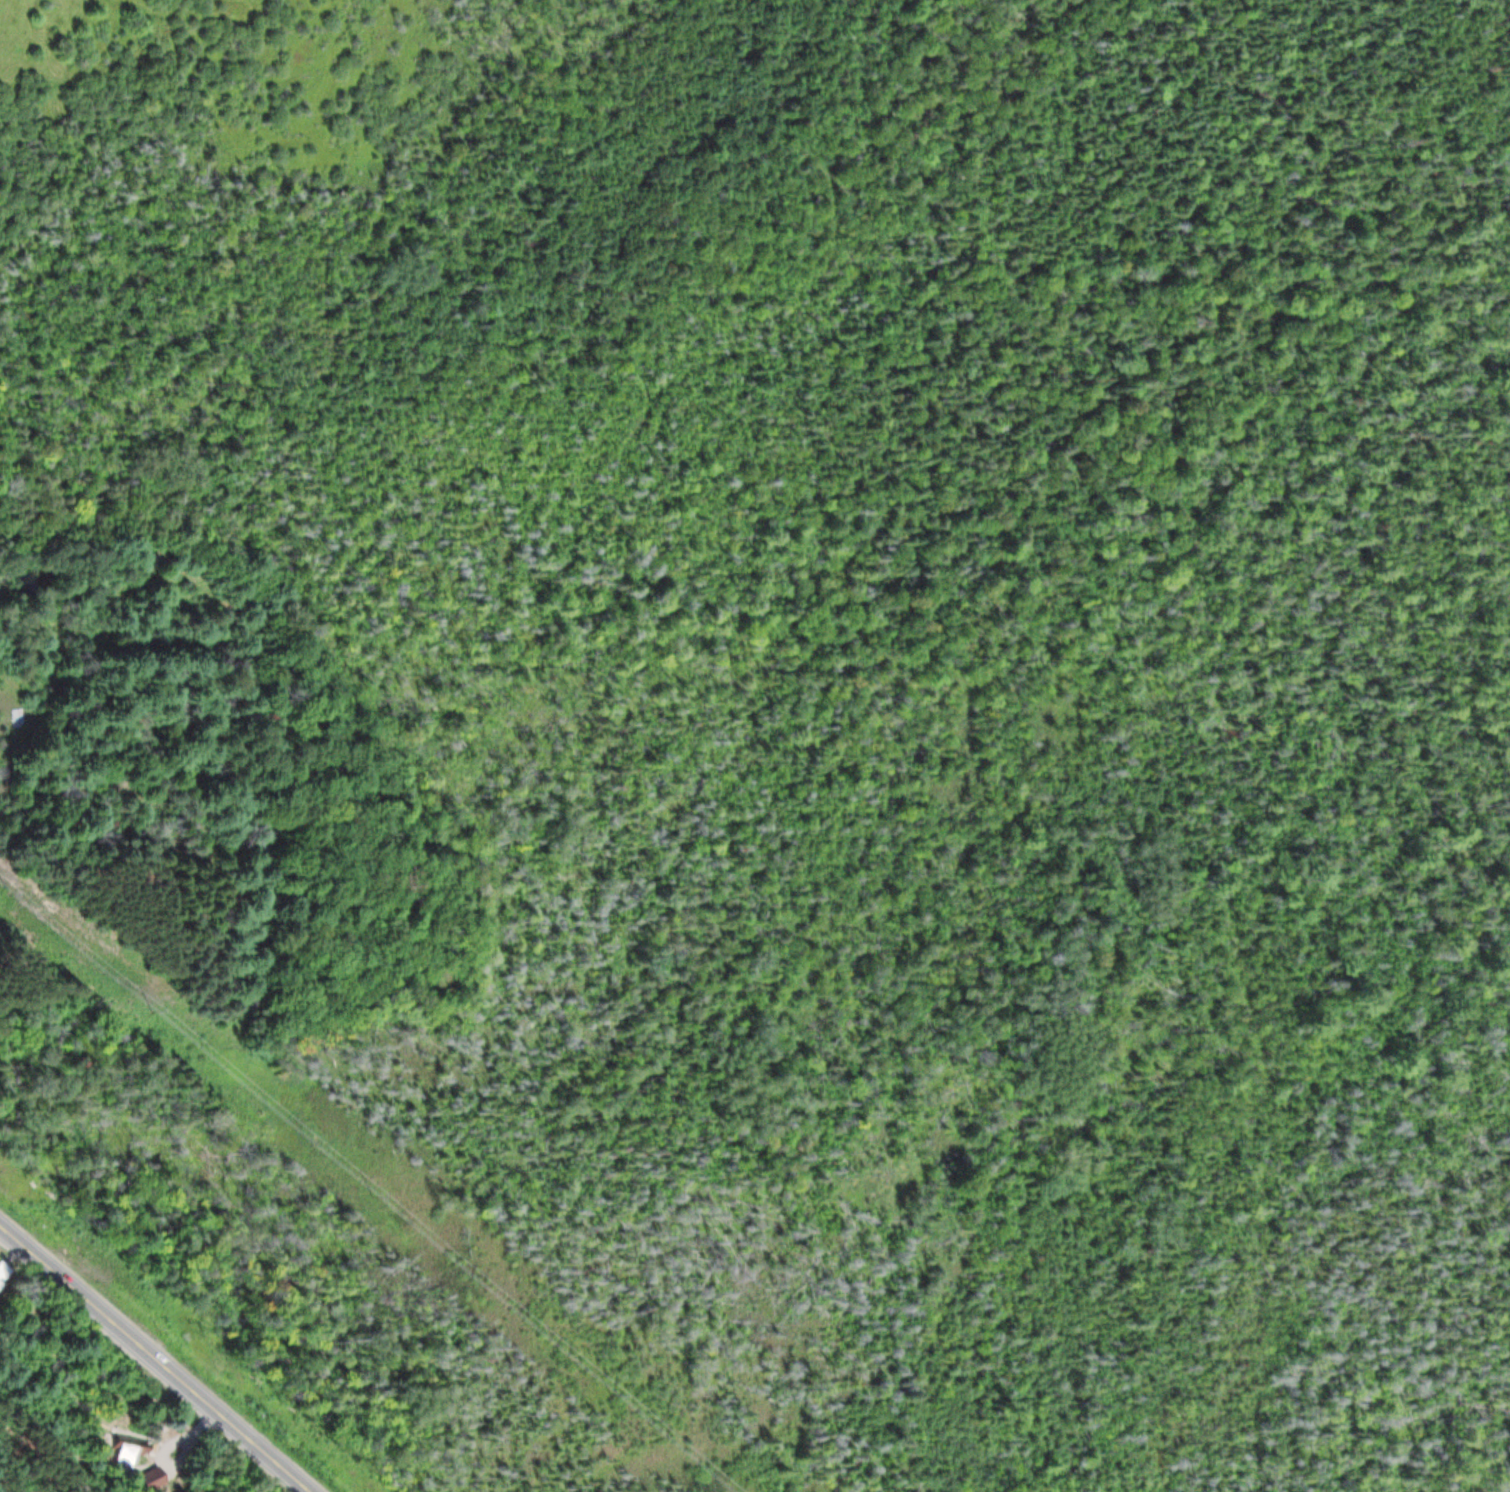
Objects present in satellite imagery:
building: (4, 1271)
road: (153, 1360)
building: (132, 1448)

